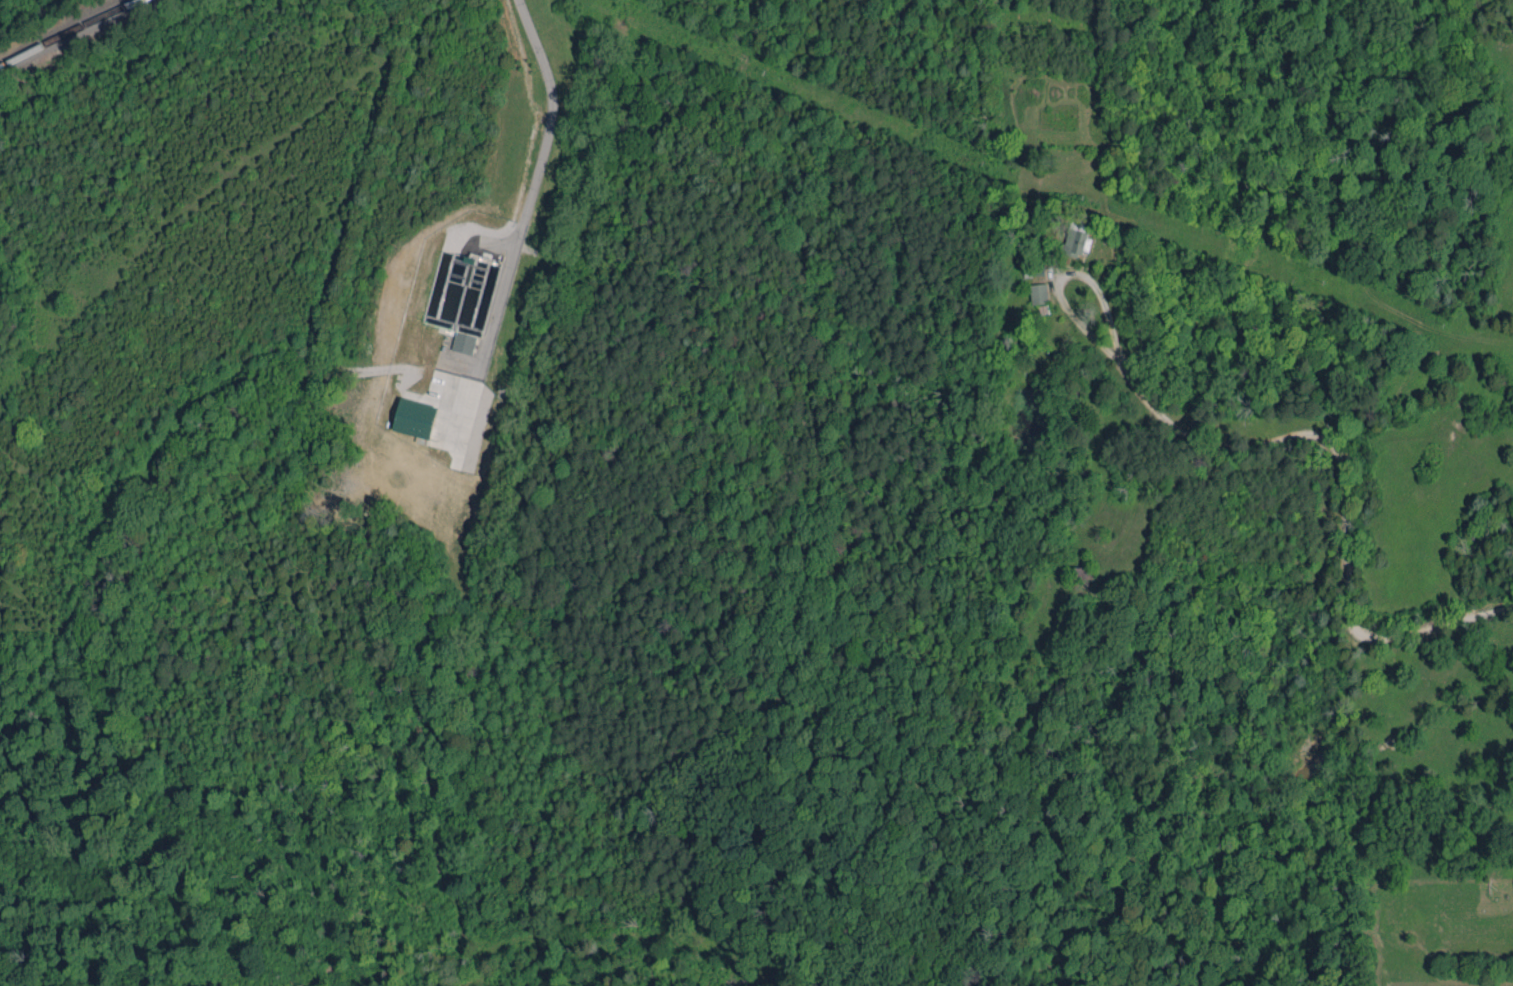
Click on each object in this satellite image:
railway: (69, 29)
road: (549, 123)
building: (1075, 239)
road: (1063, 276)
building: (1038, 293)
building: (464, 342)
building: (415, 418)
road: (1342, 494)

